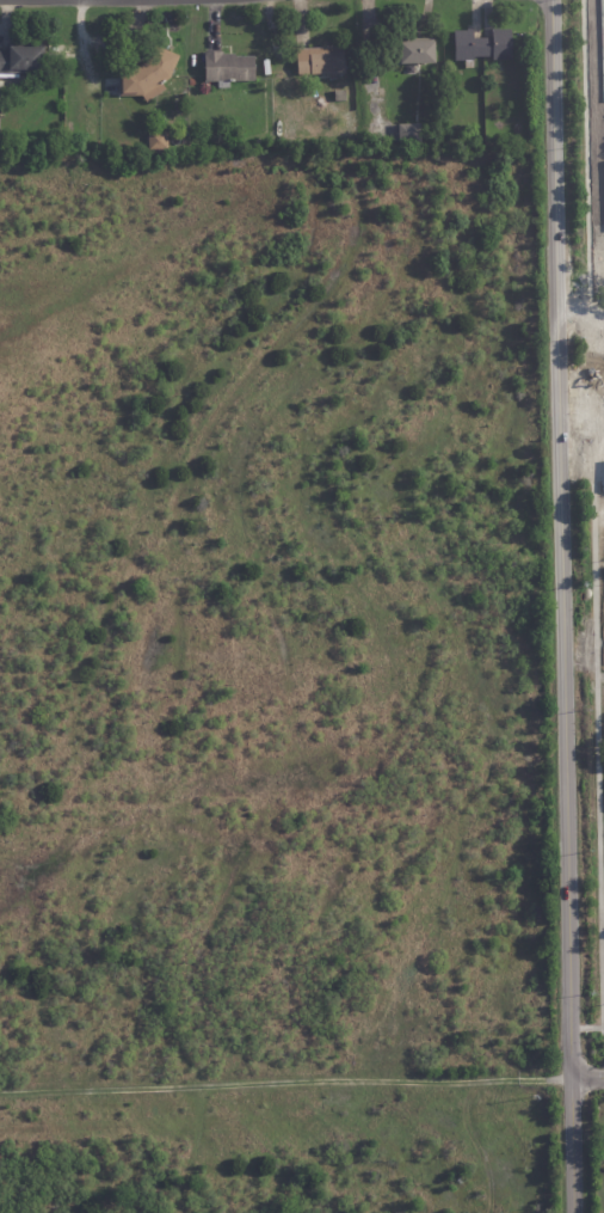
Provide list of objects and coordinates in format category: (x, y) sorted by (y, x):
building: (482, 44)
building: (418, 49)
building: (21, 61)
building: (321, 61)
building: (228, 68)
building: (149, 76)
building: (340, 94)
building: (409, 133)
building: (158, 141)
building: (53, 151)
road: (587, 200)
road: (580, 378)
road: (581, 416)
road: (561, 606)
road: (598, 739)
road: (586, 1074)

